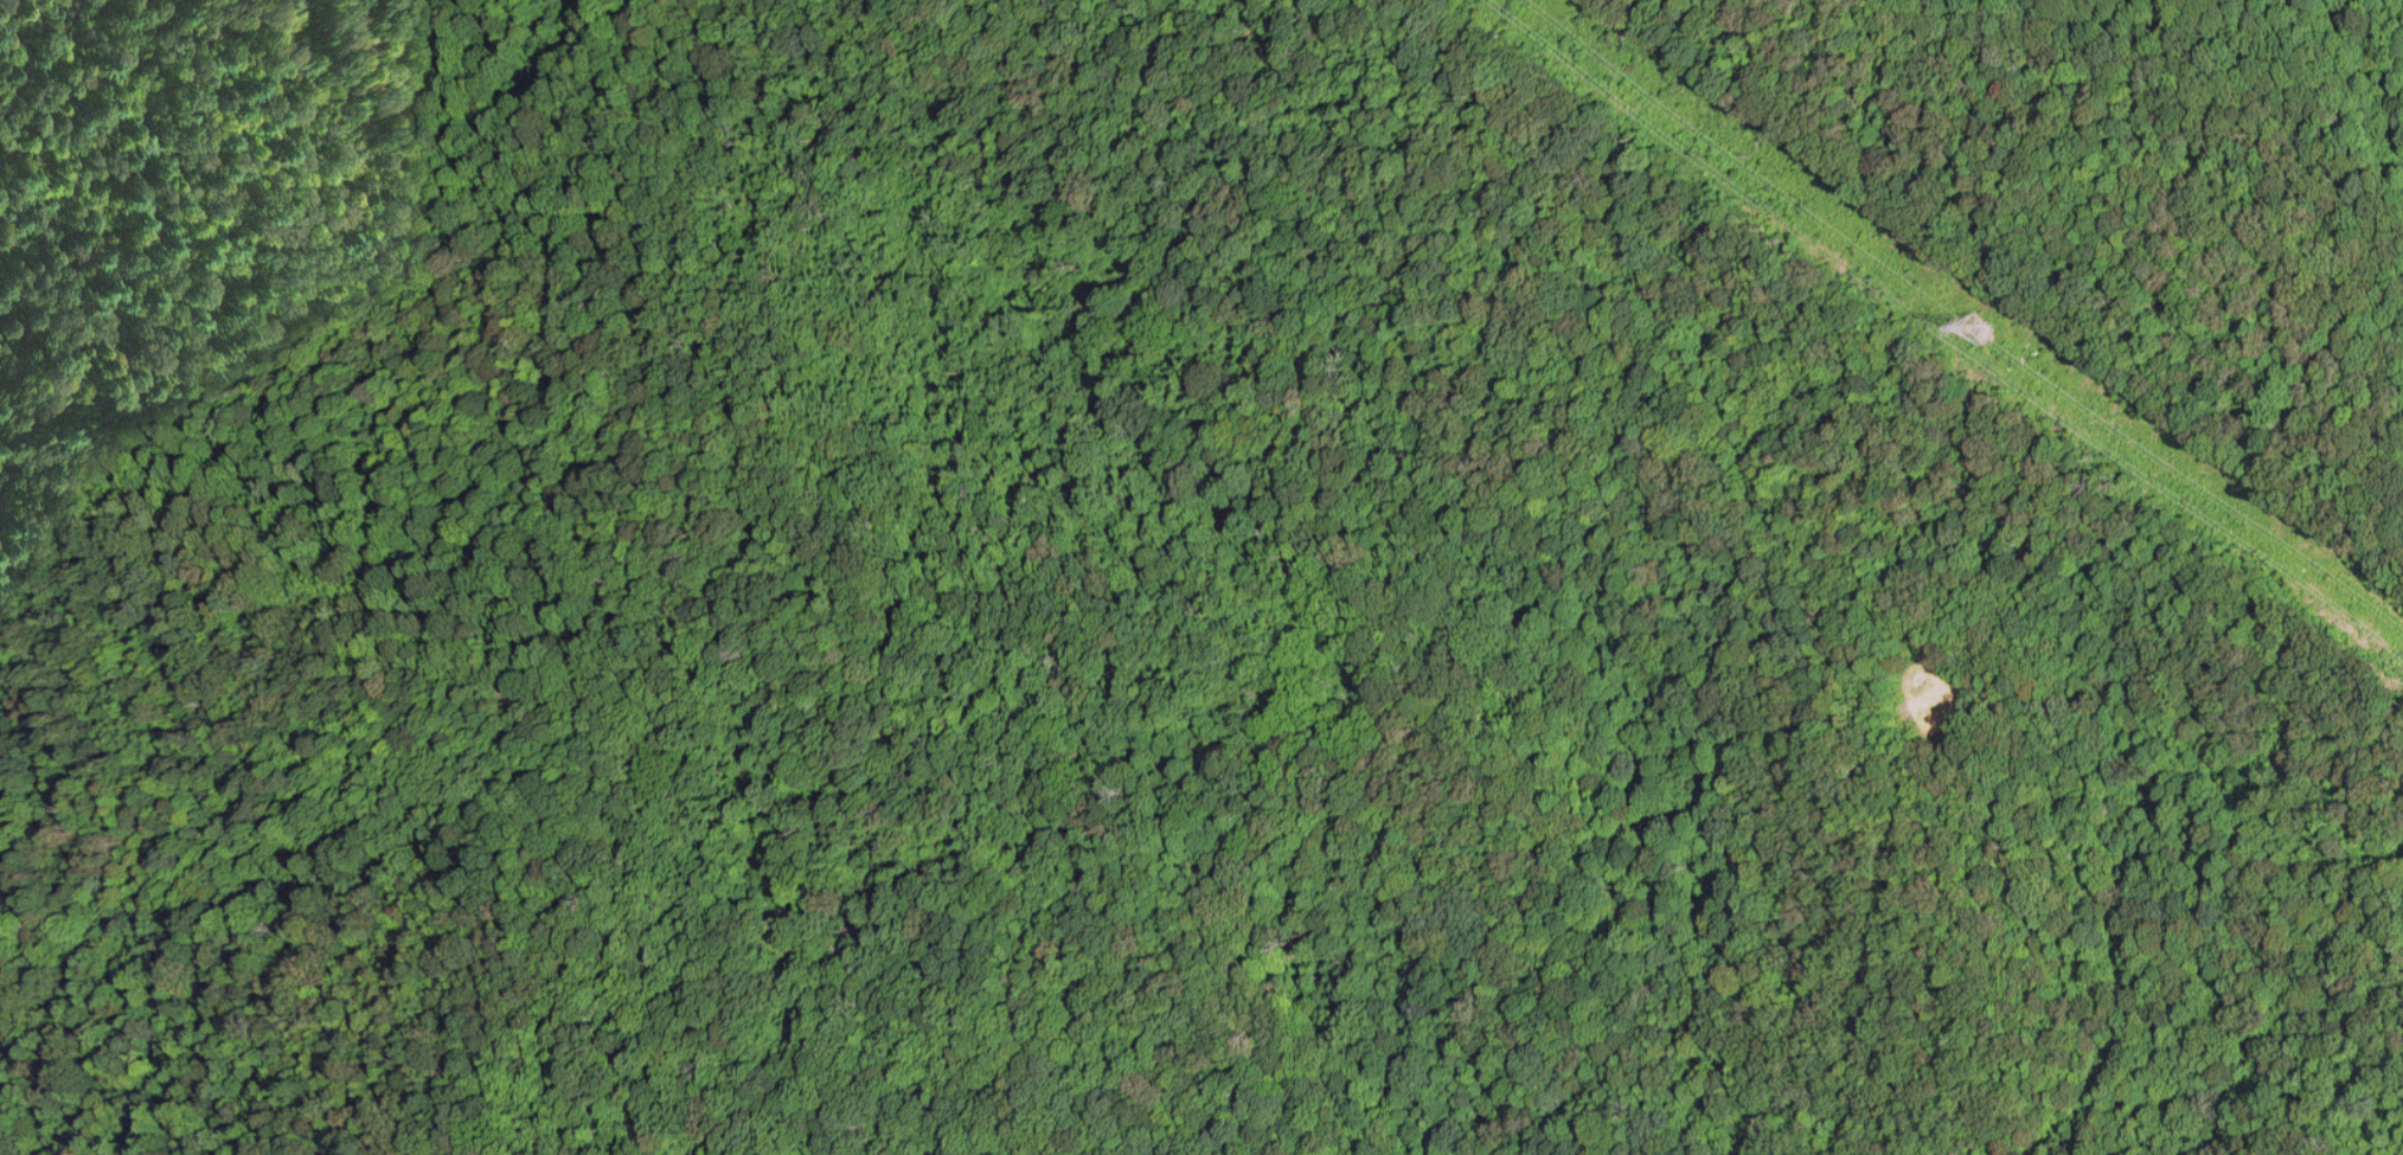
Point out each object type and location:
power tower: (1975, 327)

